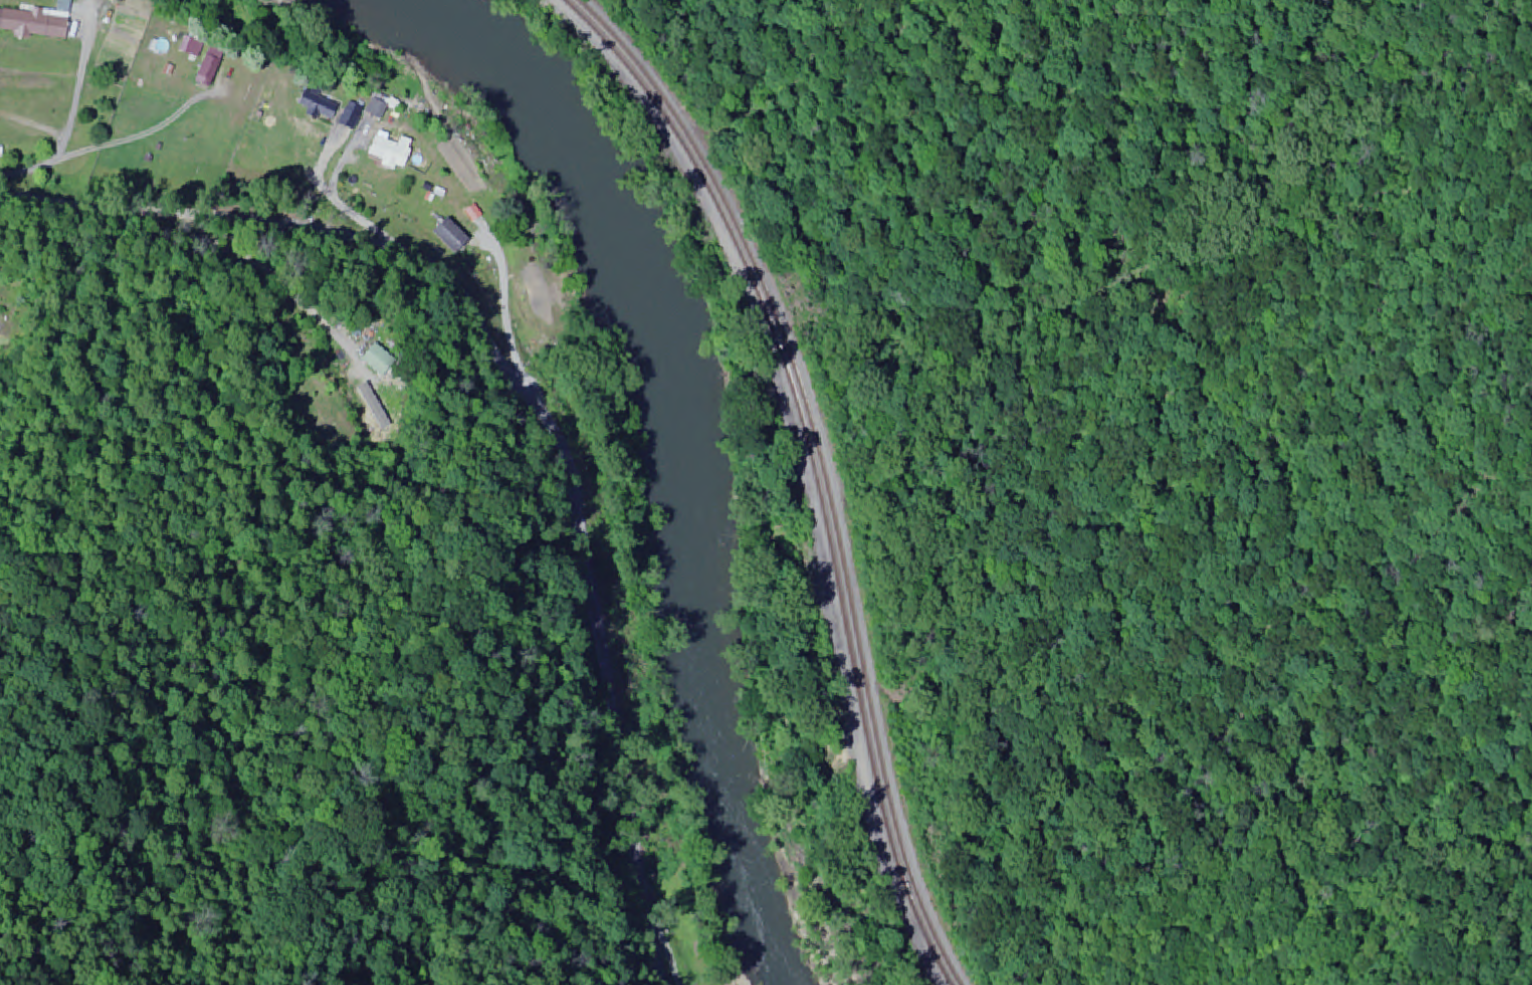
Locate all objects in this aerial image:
building: (115, 39)
building: (187, 48)
building: (155, 61)
building: (205, 73)
building: (315, 106)
building: (373, 111)
building: (348, 117)
building: (390, 152)
building: (449, 237)
building: (375, 360)
road: (515, 380)
river: (680, 449)
road: (804, 467)
railway: (819, 470)
road: (725, 983)

